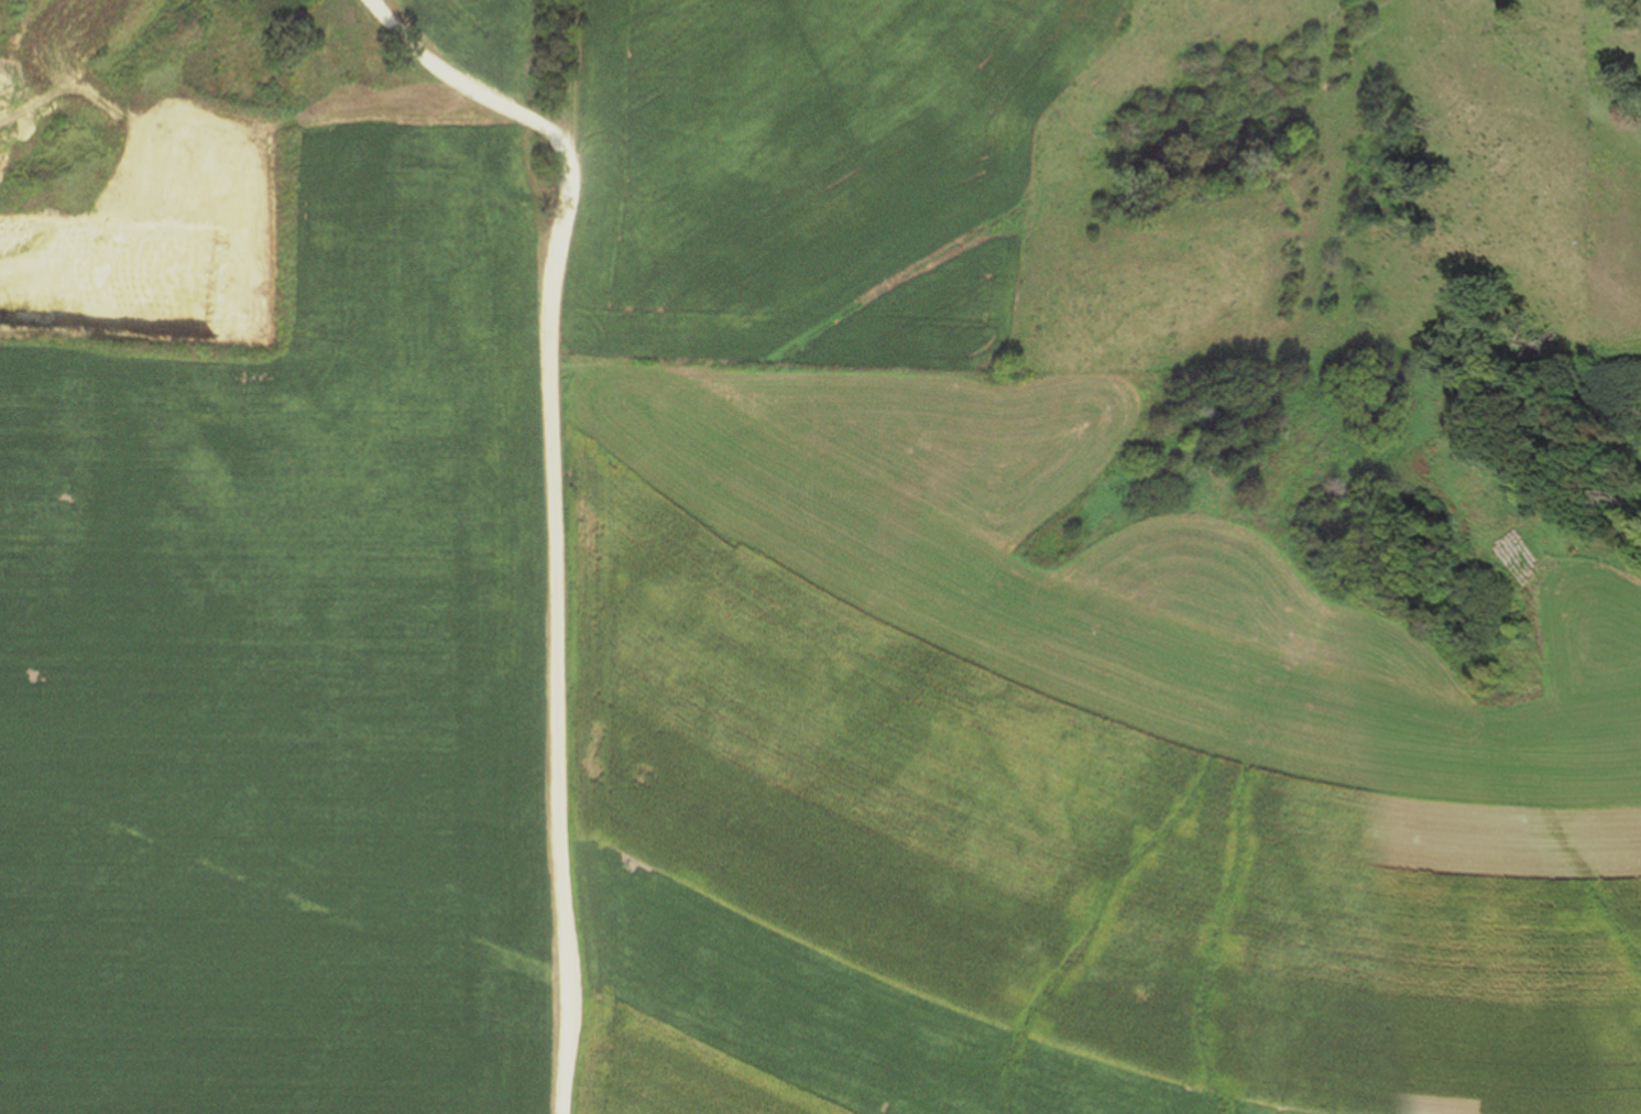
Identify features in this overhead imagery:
road: (558, 557)

